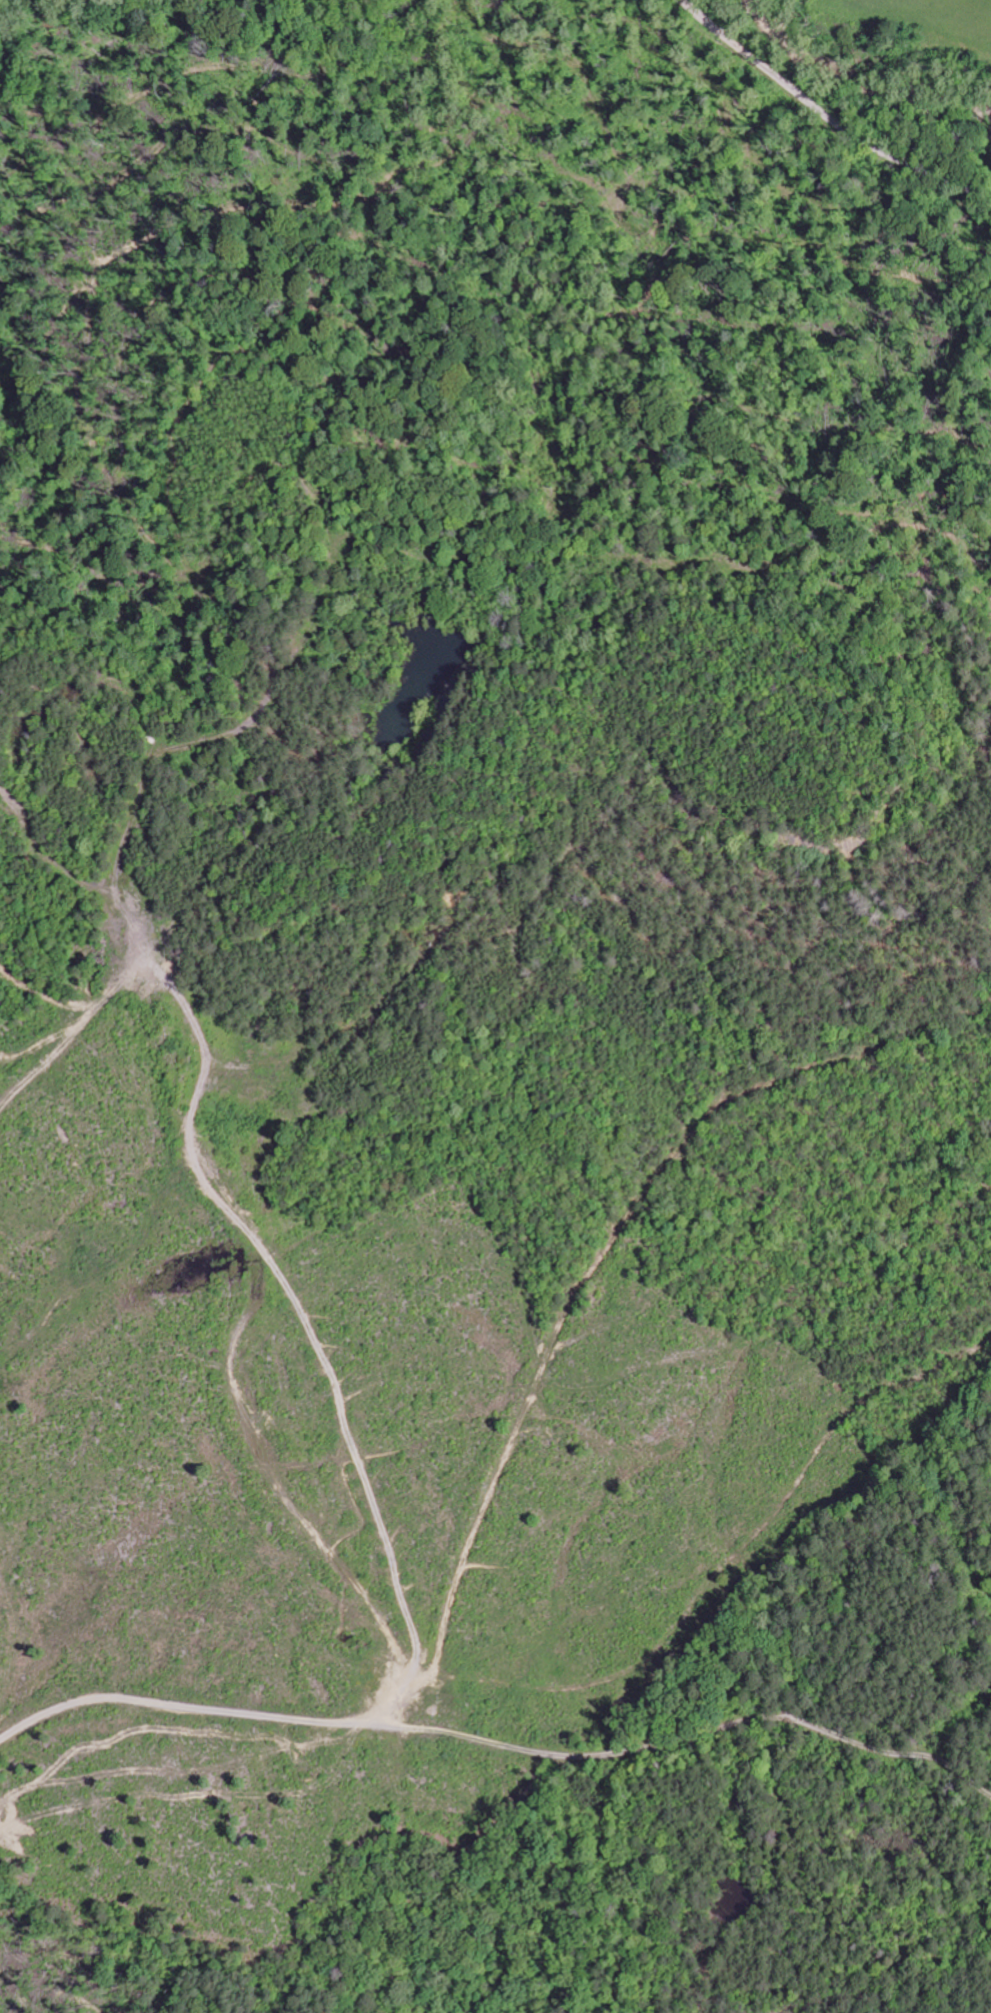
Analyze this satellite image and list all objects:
road: (825, 116)
road: (401, 974)
road: (213, 1172)
road: (108, 1264)
road: (558, 1333)
road: (499, 1742)

